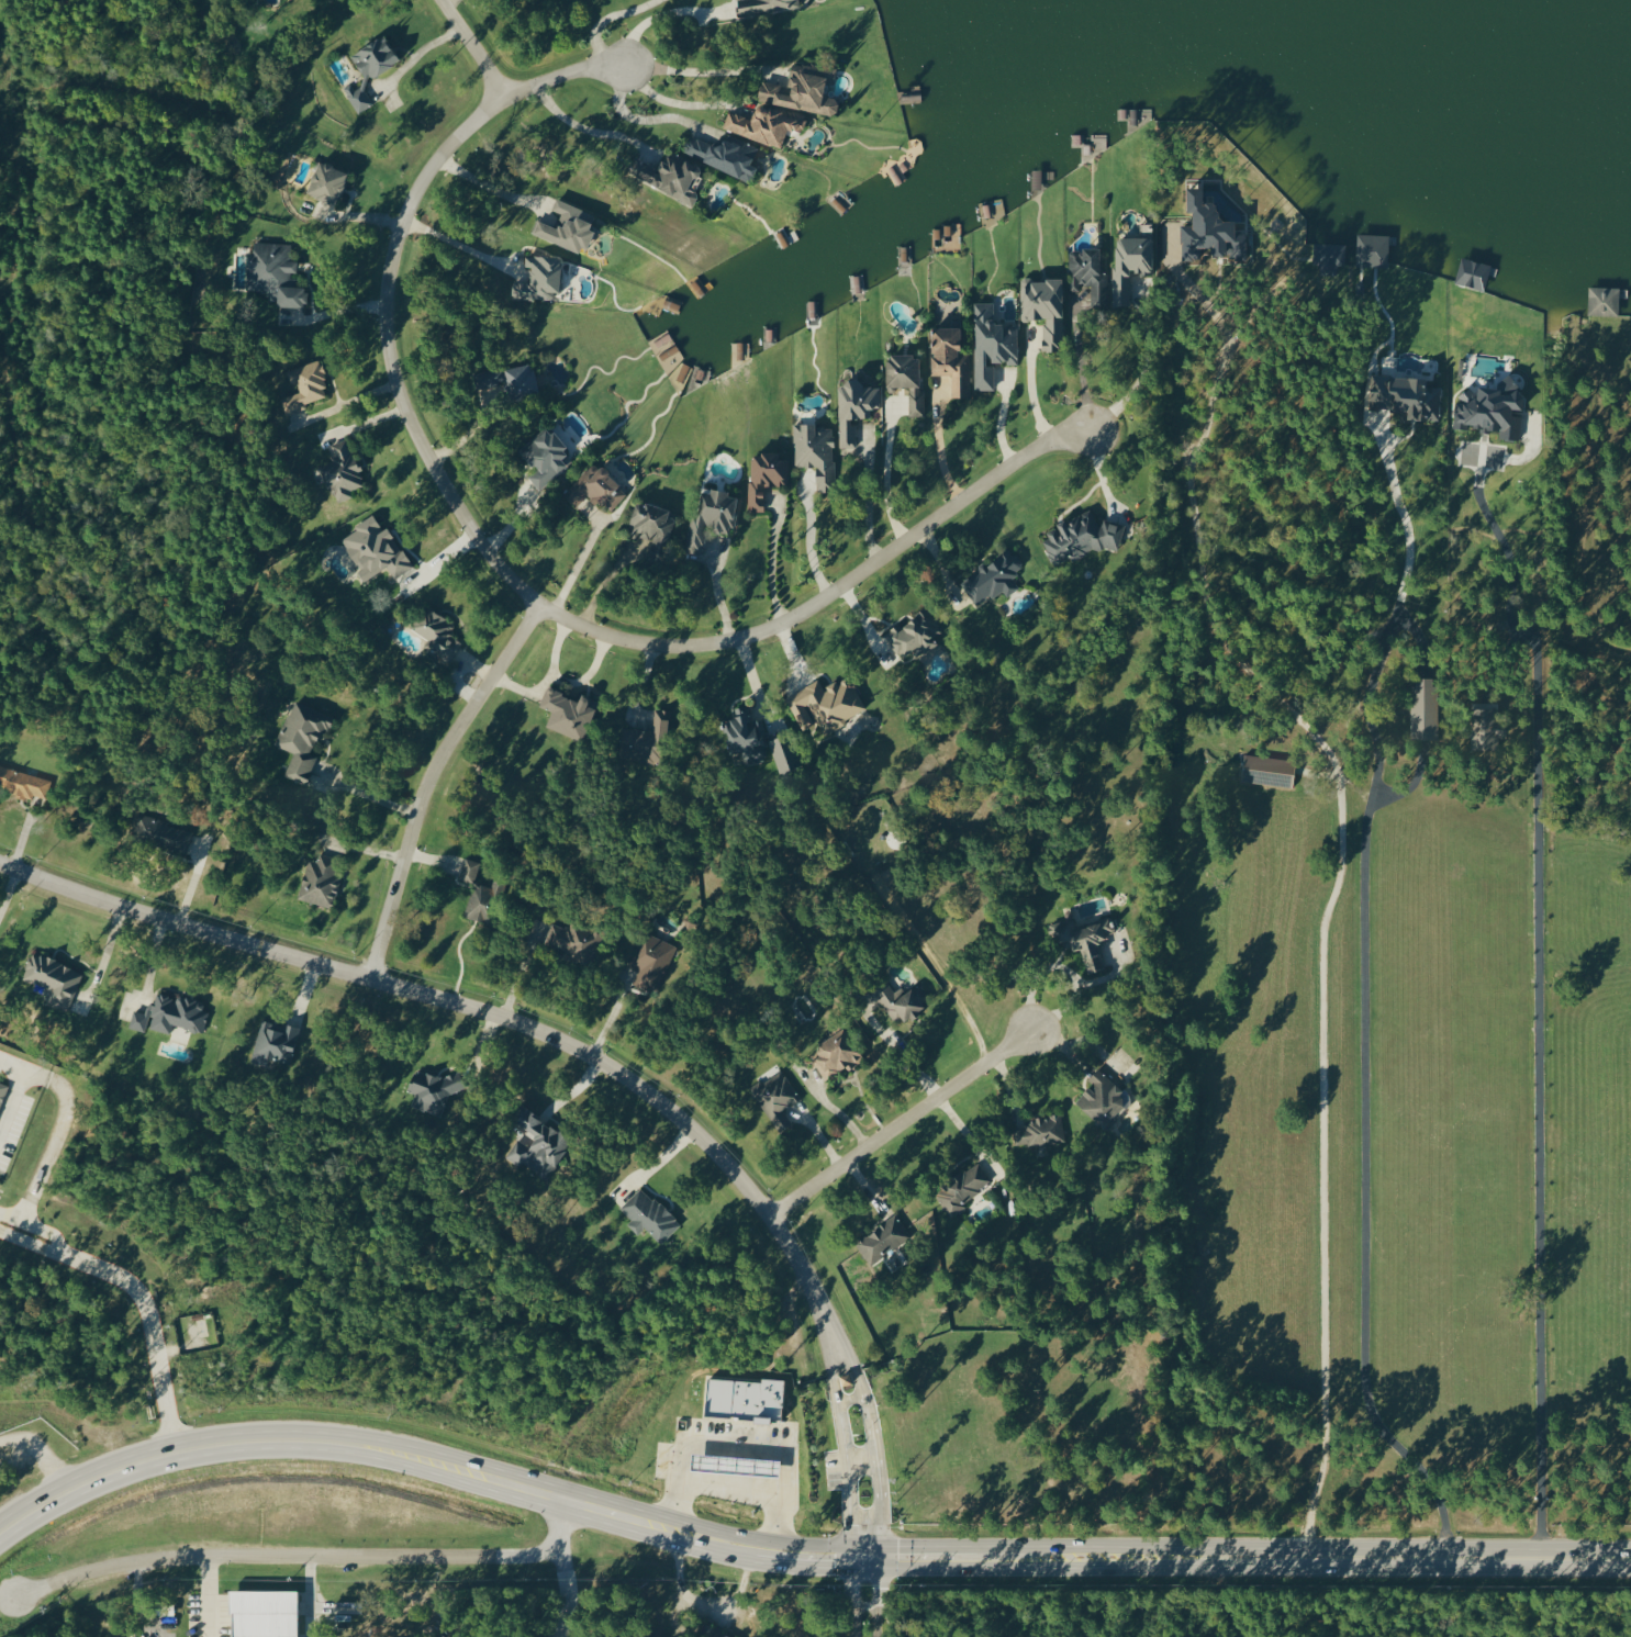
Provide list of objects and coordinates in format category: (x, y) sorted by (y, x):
building: (762, 5)
road: (663, 13)
road: (466, 48)
building: (369, 68)
building: (802, 88)
road: (649, 116)
building: (764, 123)
building: (724, 154)
building: (669, 176)
building: (326, 181)
road: (477, 181)
building: (567, 226)
building: (1208, 228)
building: (1372, 249)
building: (1329, 256)
building: (1130, 262)
building: (1086, 270)
building: (273, 273)
building: (538, 278)
building: (1604, 300)
building: (1044, 309)
building: (992, 344)
building: (951, 358)
road: (1139, 369)
building: (509, 378)
building: (304, 386)
road: (1028, 395)
building: (1405, 395)
building: (853, 407)
building: (1493, 408)
road: (946, 440)
building: (815, 452)
building: (544, 457)
road: (892, 468)
building: (340, 471)
building: (764, 476)
building: (595, 487)
road: (862, 502)
building: (711, 516)
building: (651, 524)
building: (1080, 537)
road: (808, 541)
building: (373, 549)
road: (770, 561)
road: (576, 568)
road: (500, 571)
building: (992, 578)
road: (713, 591)
road: (1396, 608)
building: (435, 632)
building: (914, 634)
building: (833, 702)
building: (1425, 707)
building: (567, 713)
building: (1486, 722)
building: (746, 737)
building: (301, 739)
building: (647, 740)
building: (784, 752)
building: (1269, 771)
road: (426, 778)
building: (22, 783)
road: (369, 787)
building: (160, 833)
building: (468, 871)
building: (320, 881)
building: (483, 902)
road: (1370, 908)
building: (573, 939)
building: (1083, 940)
building: (650, 961)
road: (521, 972)
building: (52, 978)
road: (1539, 993)
building: (896, 1001)
road: (482, 1011)
building: (170, 1014)
building: (275, 1042)
building: (836, 1054)
road: (15, 1085)
building: (435, 1089)
building: (2, 1091)
building: (775, 1098)
building: (1103, 1099)
road: (896, 1123)
building: (1039, 1132)
road: (967, 1135)
road: (52, 1139)
building: (538, 1144)
road: (1323, 1164)
building: (963, 1187)
building: (648, 1216)
road: (35, 1231)
road: (20, 1240)
building: (882, 1240)
road: (148, 1324)
road: (842, 1358)
road: (830, 1361)
building: (845, 1378)
road: (848, 1398)
building: (744, 1399)
road: (722, 1439)
road: (871, 1448)
road: (387, 1450)
road: (41, 1453)
road: (844, 1453)
road: (859, 1460)
building: (734, 1465)
gas station: (734, 1465)
road: (734, 1491)
road: (784, 1527)
road: (862, 1540)
road: (1205, 1555)
road: (275, 1556)
road: (552, 1568)
road: (206, 1596)
road: (309, 1596)
road: (862, 1596)
road: (705, 1604)
building: (264, 1613)
building: (711, 1632)

